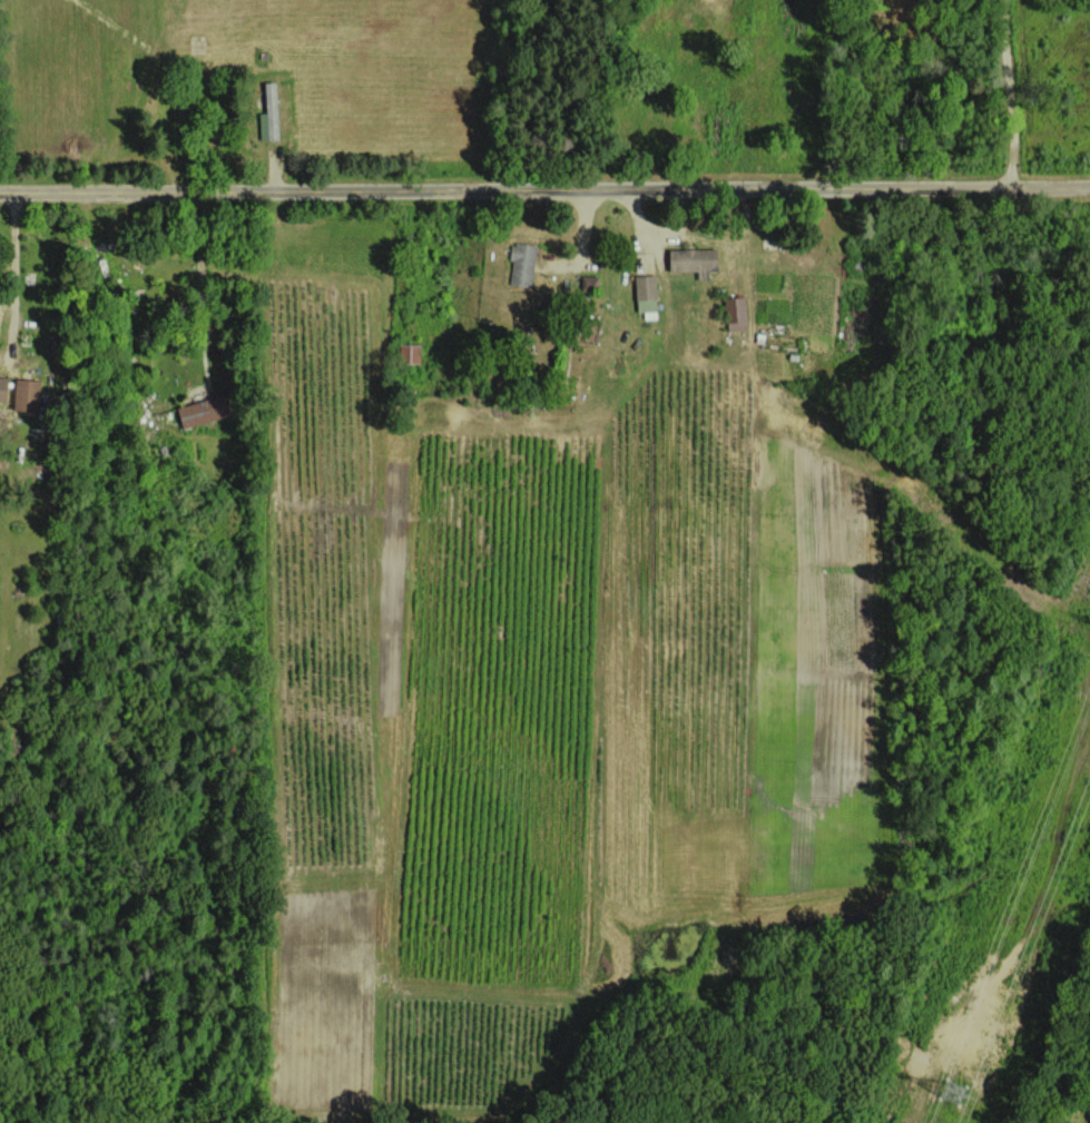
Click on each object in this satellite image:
road: (1010, 95)
building: (268, 112)
road: (544, 191)
building: (691, 260)
building: (520, 264)
road: (4, 268)
building: (735, 312)
building: (409, 353)
building: (2, 387)
building: (24, 394)
building: (202, 410)
power tower: (965, 1055)

